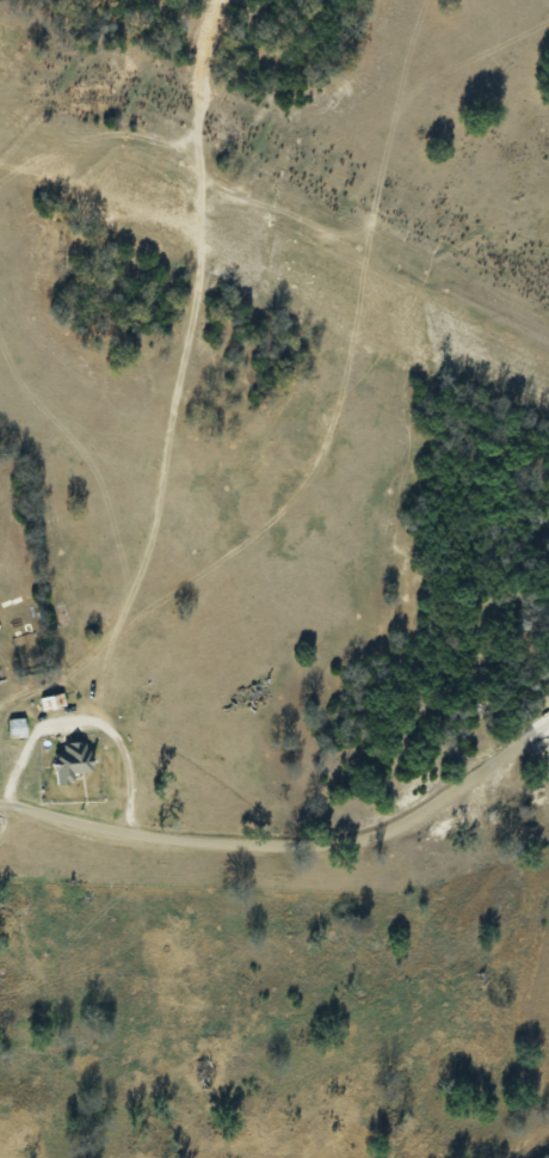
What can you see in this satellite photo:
building: (54, 700)
building: (16, 727)
building: (70, 761)
road: (290, 839)

